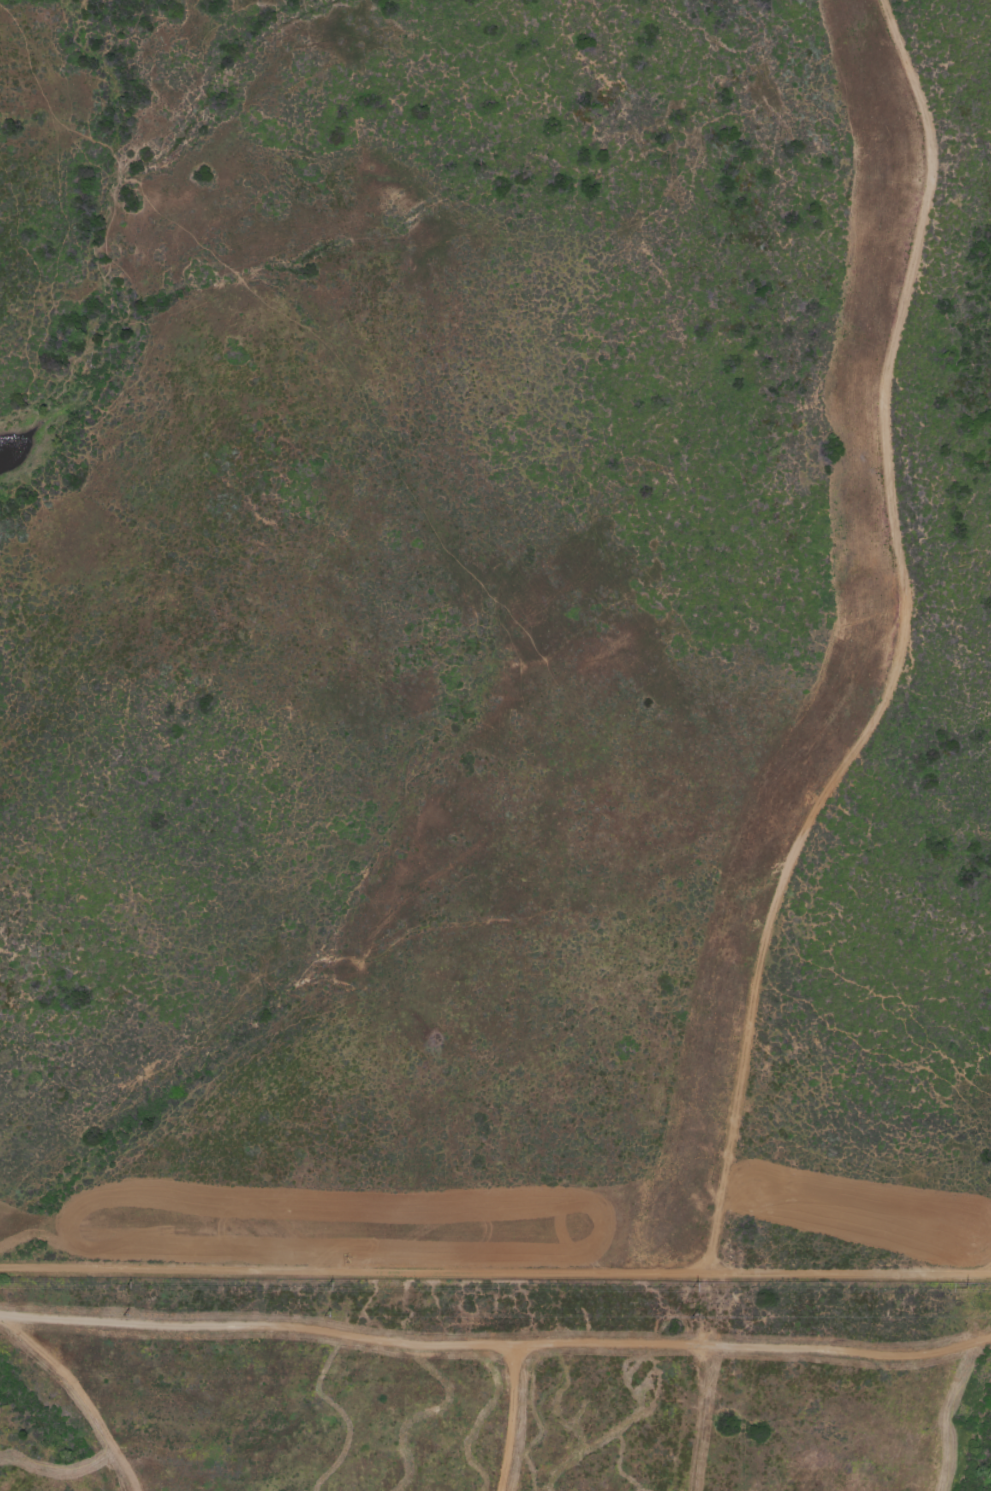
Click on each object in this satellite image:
road: (495, 1273)
road: (495, 1347)

